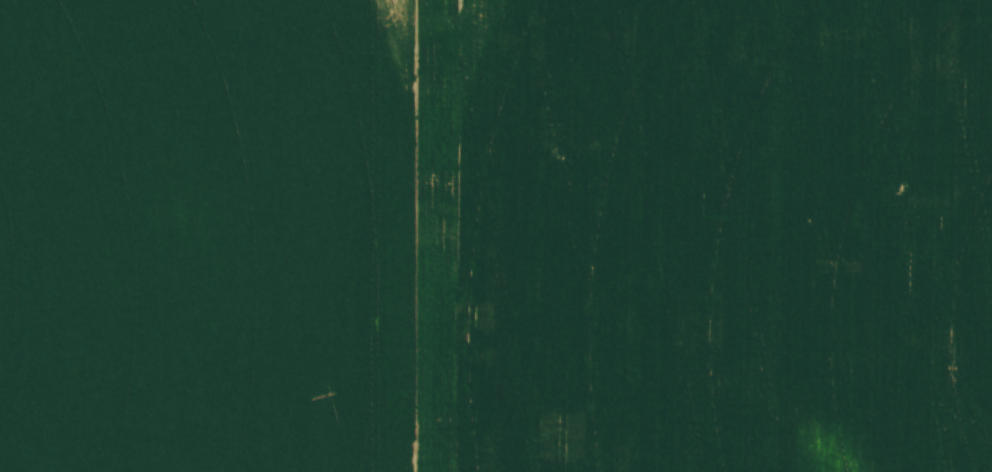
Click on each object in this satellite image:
crop: (496, 236)

